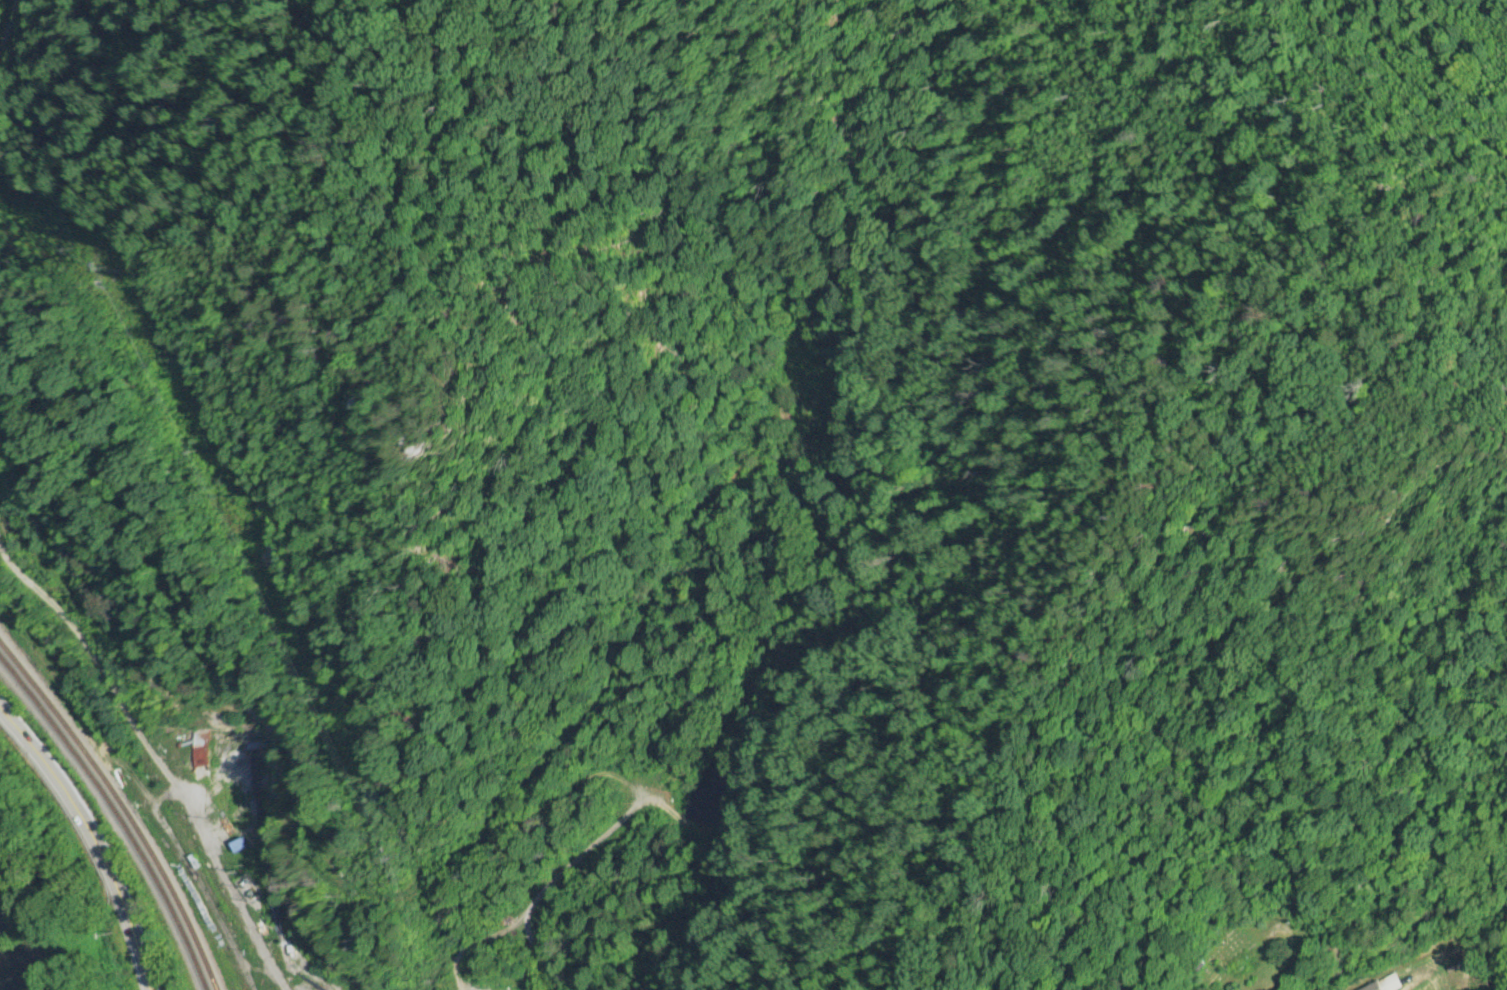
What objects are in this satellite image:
road: (10, 21)
road: (158, 754)
railway: (117, 812)
road: (91, 840)

